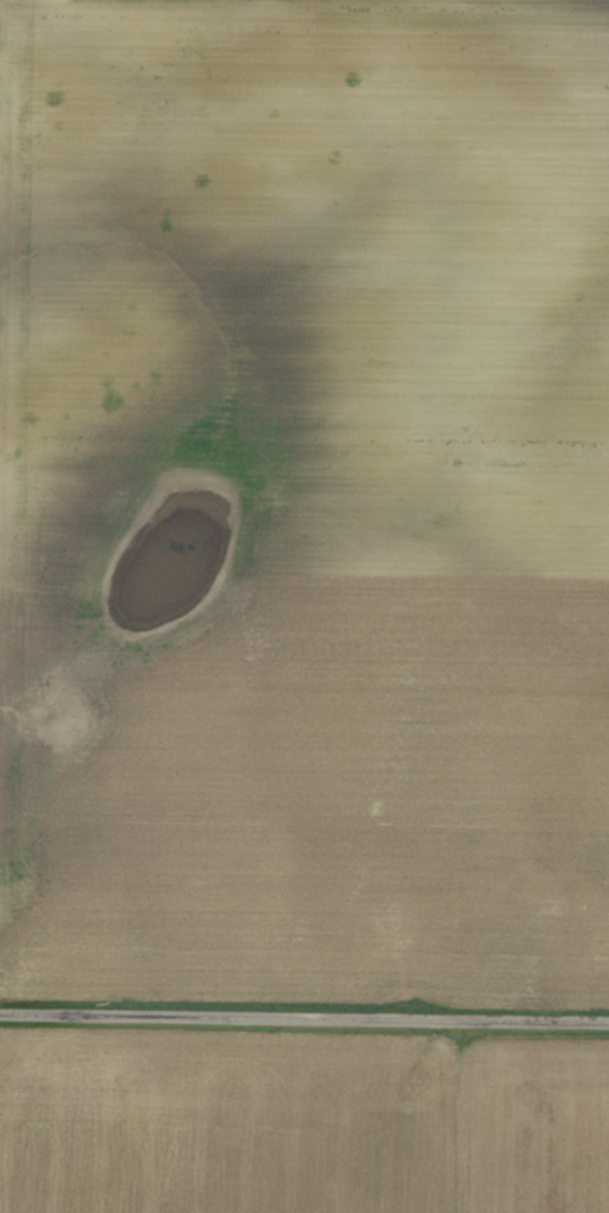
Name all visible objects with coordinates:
road: (304, 1020)

